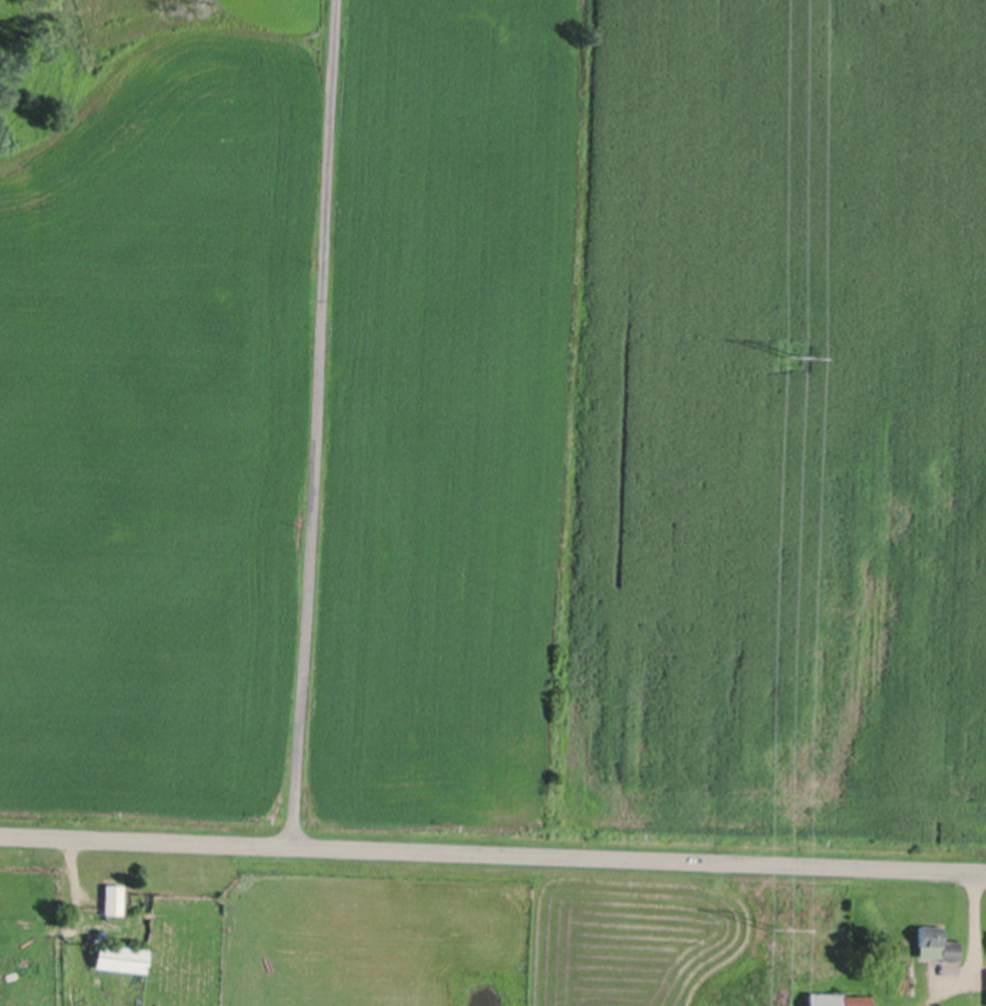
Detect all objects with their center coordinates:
power tower: (789, 354)
road: (316, 422)
road: (492, 852)
building: (112, 897)
power tower: (773, 923)
building: (100, 935)
building: (936, 942)
building: (120, 957)
building: (904, 975)
building: (838, 999)

